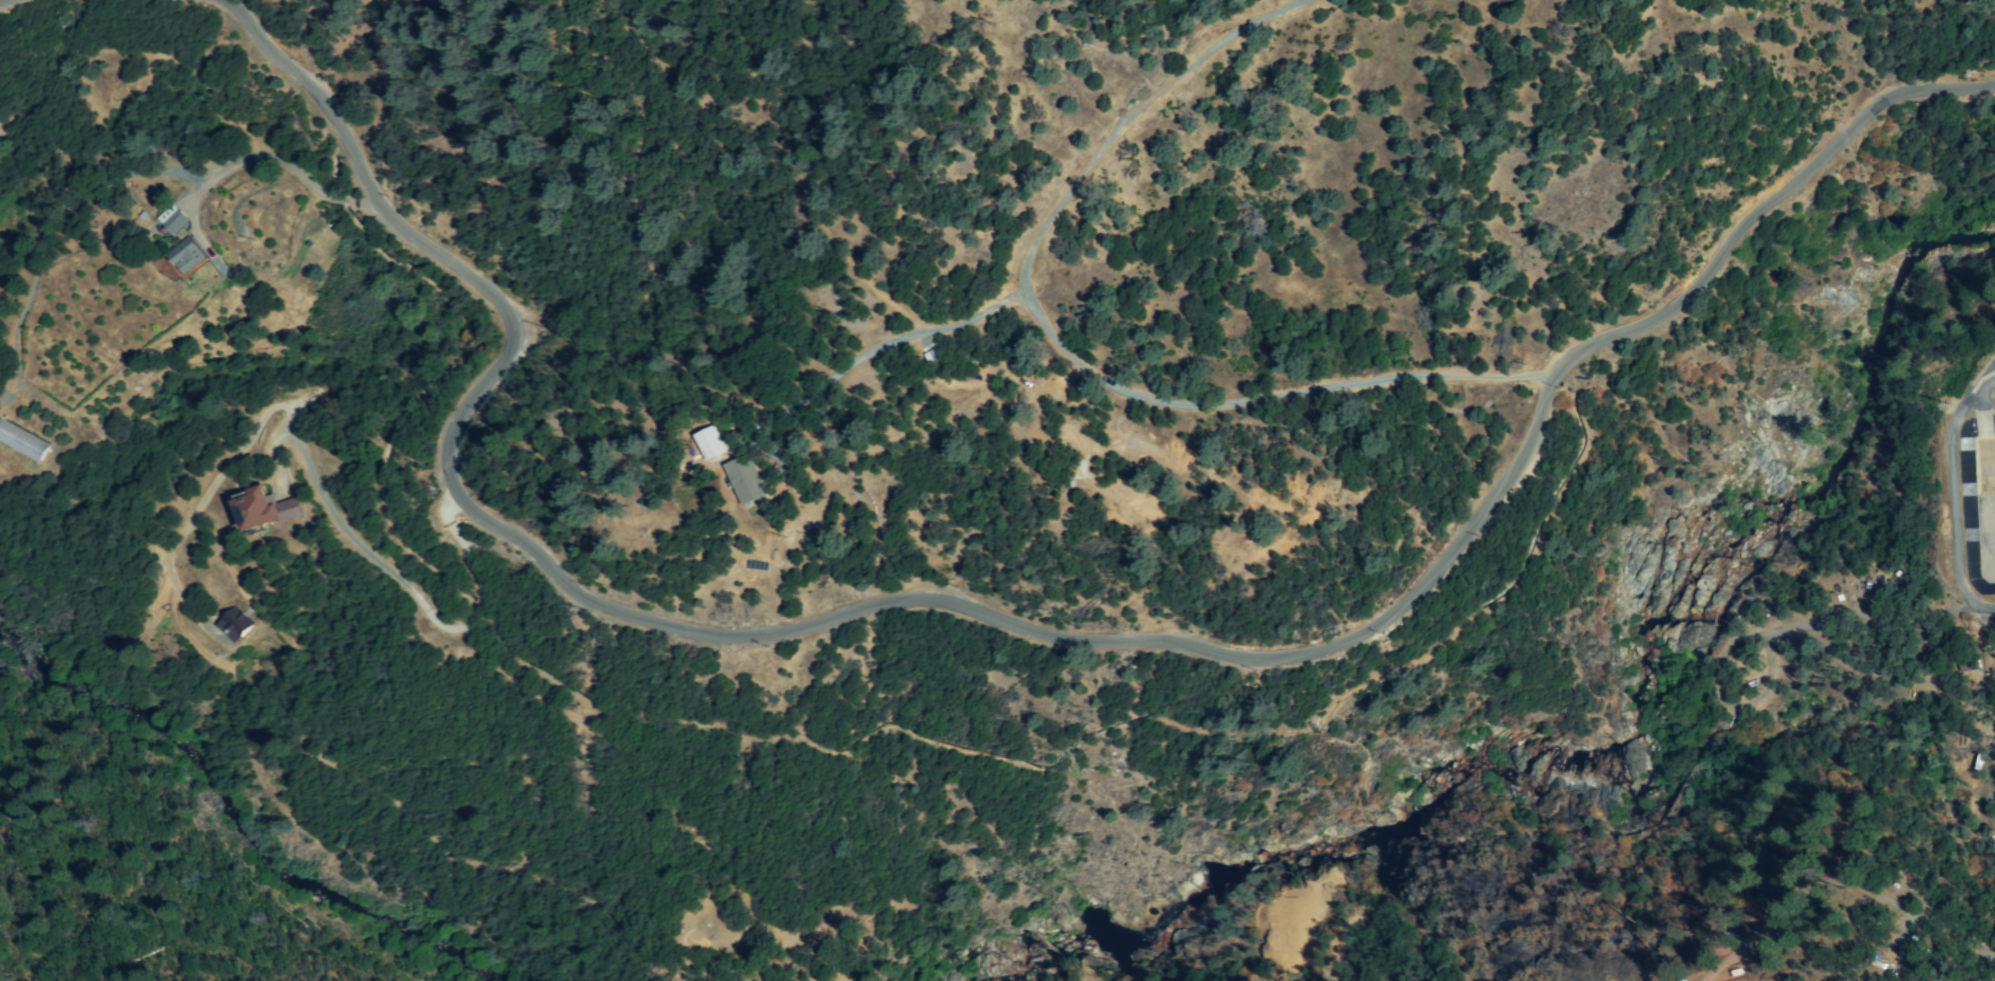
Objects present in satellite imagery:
road: (284, 163)
building: (173, 219)
building: (187, 256)
road: (882, 345)
road: (1062, 346)
road: (290, 419)
building: (22, 442)
building: (745, 480)
building: (265, 510)
road: (463, 547)
road: (475, 612)
road: (1012, 623)
building: (235, 625)

